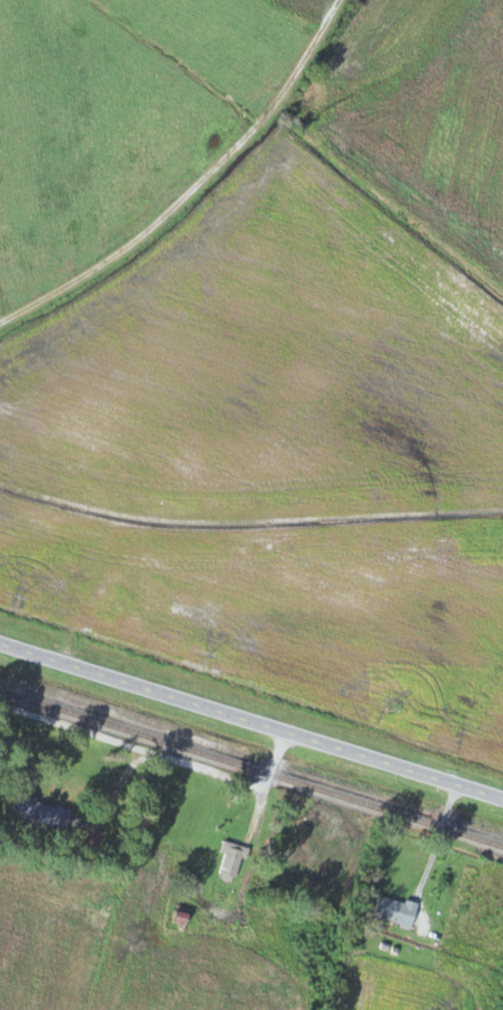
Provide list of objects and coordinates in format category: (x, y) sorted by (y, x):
road: (251, 721)
railway: (251, 767)
building: (43, 811)
building: (232, 862)
building: (396, 911)
building: (182, 918)
road: (324, 965)

